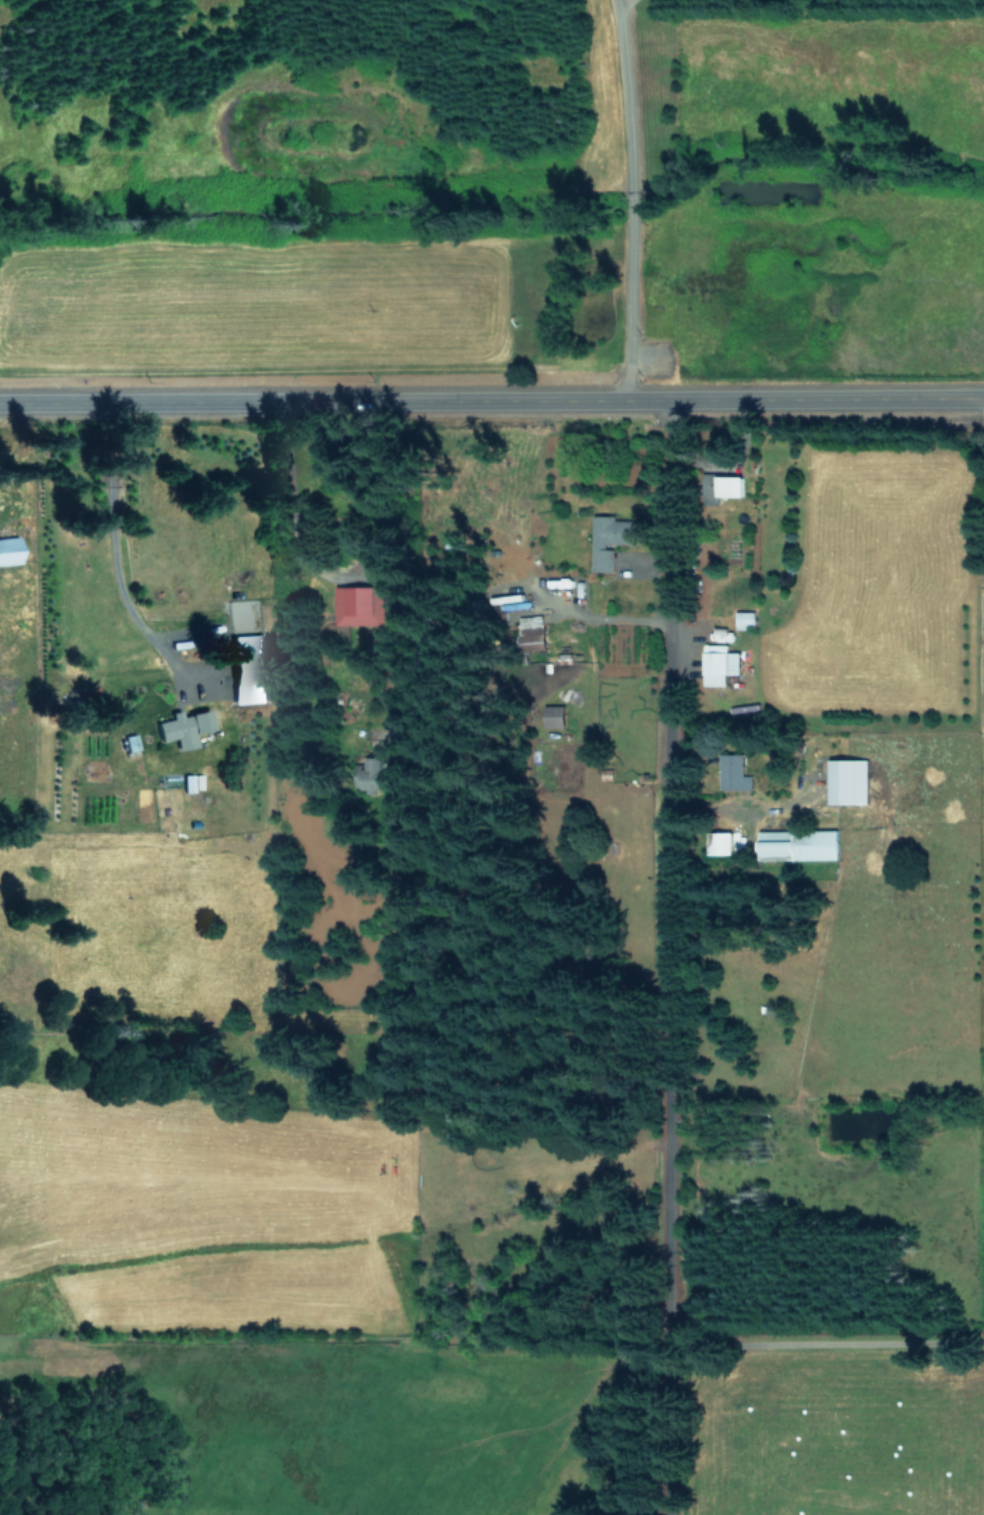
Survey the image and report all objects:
road: (492, 397)
building: (727, 484)
building: (607, 538)
road: (111, 542)
building: (9, 549)
building: (358, 604)
building: (743, 618)
building: (717, 663)
building: (246, 668)
building: (183, 727)
building: (732, 771)
building: (368, 778)
building: (846, 780)
building: (718, 842)
building: (797, 843)
road: (660, 957)
road: (832, 1344)

